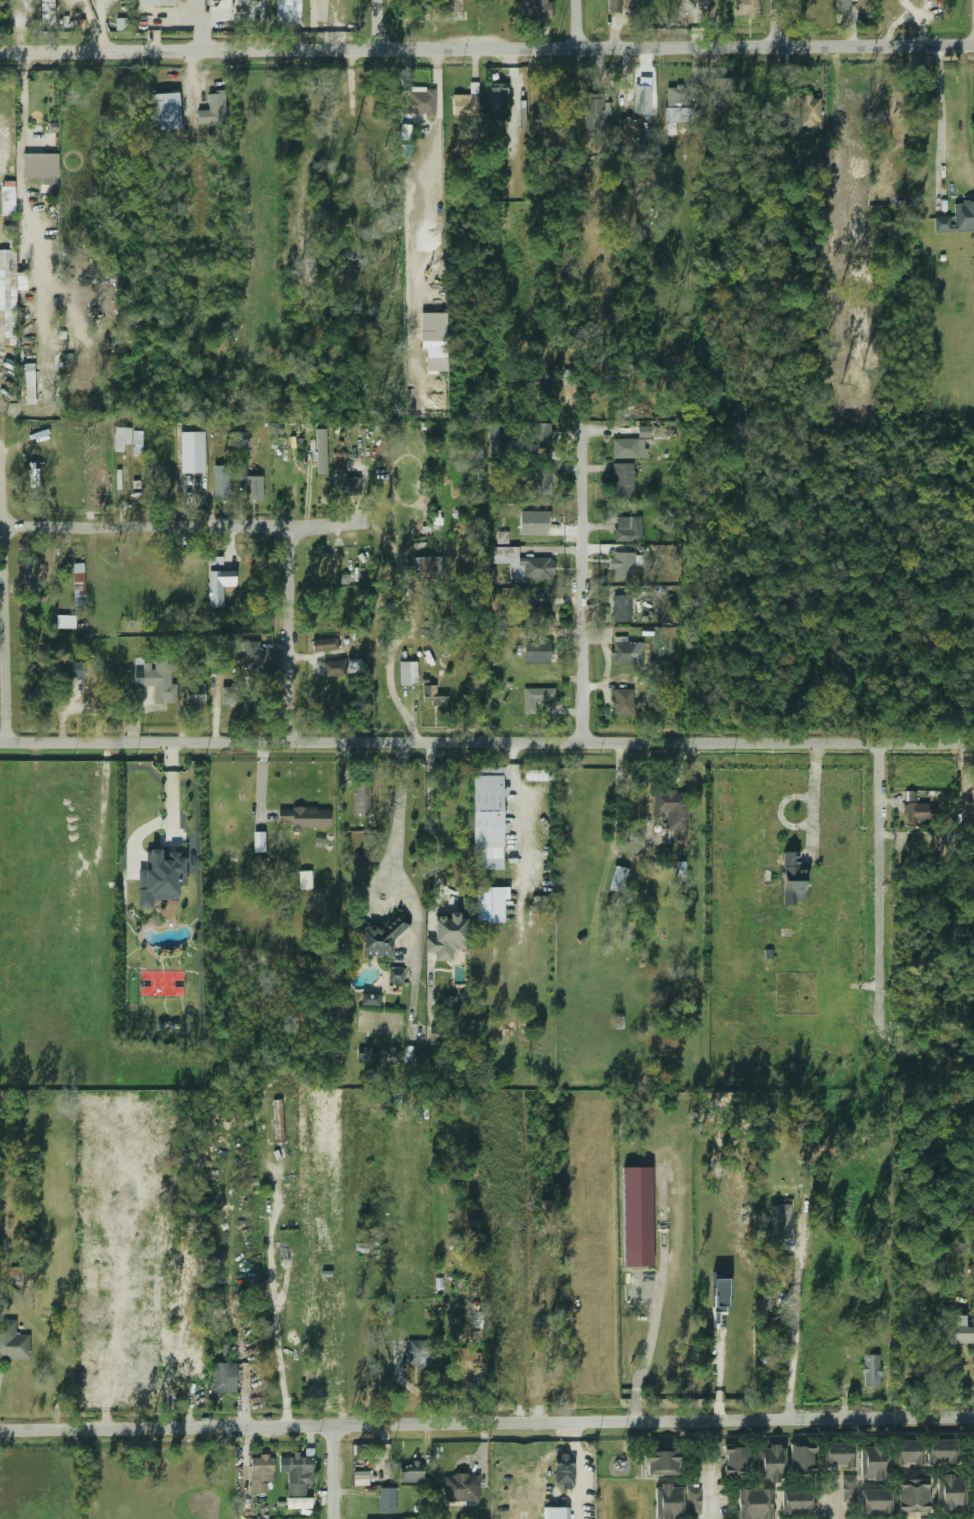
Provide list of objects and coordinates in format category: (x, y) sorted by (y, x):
building: (155, 2)
building: (613, 6)
building: (842, 7)
building: (535, 8)
building: (749, 8)
building: (673, 9)
building: (453, 10)
building: (288, 11)
building: (414, 11)
road: (781, 20)
road: (581, 21)
road: (202, 22)
road: (381, 22)
road: (267, 23)
building: (123, 24)
road: (486, 43)
building: (497, 97)
building: (642, 99)
building: (676, 100)
building: (417, 102)
building: (464, 105)
building: (212, 110)
building: (163, 111)
building: (811, 111)
building: (592, 113)
road: (192, 115)
road: (941, 116)
building: (626, 129)
road: (20, 147)
building: (39, 166)
building: (7, 201)
building: (957, 217)
building: (41, 280)
building: (7, 293)
building: (434, 339)
building: (569, 376)
building: (546, 384)
building: (25, 392)
building: (540, 434)
building: (121, 437)
building: (137, 440)
building: (629, 448)
building: (321, 451)
building: (192, 452)
building: (344, 477)
building: (623, 480)
building: (221, 481)
building: (541, 481)
building: (254, 488)
road: (184, 524)
building: (628, 528)
building: (522, 563)
building: (427, 565)
building: (623, 565)
building: (78, 584)
building: (219, 586)
road: (5, 590)
road: (584, 590)
building: (495, 601)
building: (622, 607)
building: (537, 616)
building: (65, 621)
road: (291, 633)
building: (324, 644)
building: (538, 651)
building: (627, 651)
building: (252, 654)
building: (334, 668)
building: (71, 669)
building: (408, 672)
building: (158, 678)
building: (434, 694)
building: (195, 695)
building: (229, 695)
building: (536, 697)
building: (37, 698)
building: (623, 700)
road: (486, 743)
building: (540, 774)
road: (260, 778)
road: (650, 781)
building: (361, 798)
building: (973, 807)
road: (524, 808)
building: (914, 809)
building: (486, 811)
building: (672, 813)
road: (430, 816)
building: (303, 818)
road: (397, 820)
building: (257, 842)
building: (946, 848)
building: (681, 868)
building: (160, 878)
building: (305, 879)
building: (617, 879)
building: (791, 879)
road: (881, 899)
building: (490, 903)
building: (447, 937)
building: (378, 939)
building: (395, 975)
building: (370, 999)
building: (436, 1034)
building: (365, 1054)
building: (389, 1056)
building: (780, 1205)
building: (547, 1212)
building: (367, 1247)
building: (89, 1266)
building: (214, 1273)
building: (17, 1276)
building: (158, 1280)
building: (721, 1294)
building: (214, 1297)
building: (764, 1304)
road: (274, 1306)
road: (796, 1320)
building: (958, 1329)
road: (118, 1338)
building: (12, 1342)
building: (415, 1353)
building: (89, 1355)
building: (769, 1359)
building: (923, 1366)
building: (871, 1371)
road: (718, 1375)
building: (223, 1378)
building: (87, 1386)
road: (487, 1424)
building: (941, 1452)
building: (907, 1453)
building: (970, 1455)
building: (838, 1456)
building: (801, 1459)
building: (660, 1461)
building: (735, 1461)
building: (873, 1462)
building: (769, 1464)
building: (564, 1471)
building: (410, 1472)
building: (259, 1473)
road: (333, 1473)
building: (298, 1475)
building: (360, 1479)
road: (707, 1482)
building: (460, 1488)
building: (847, 1490)
building: (949, 1493)
building: (912, 1498)
building: (386, 1500)
building: (692, 1501)
building: (795, 1502)
building: (875, 1502)
building: (299, 1503)
building: (668, 1503)
building: (754, 1504)
building: (556, 1513)
building: (940, 1518)

